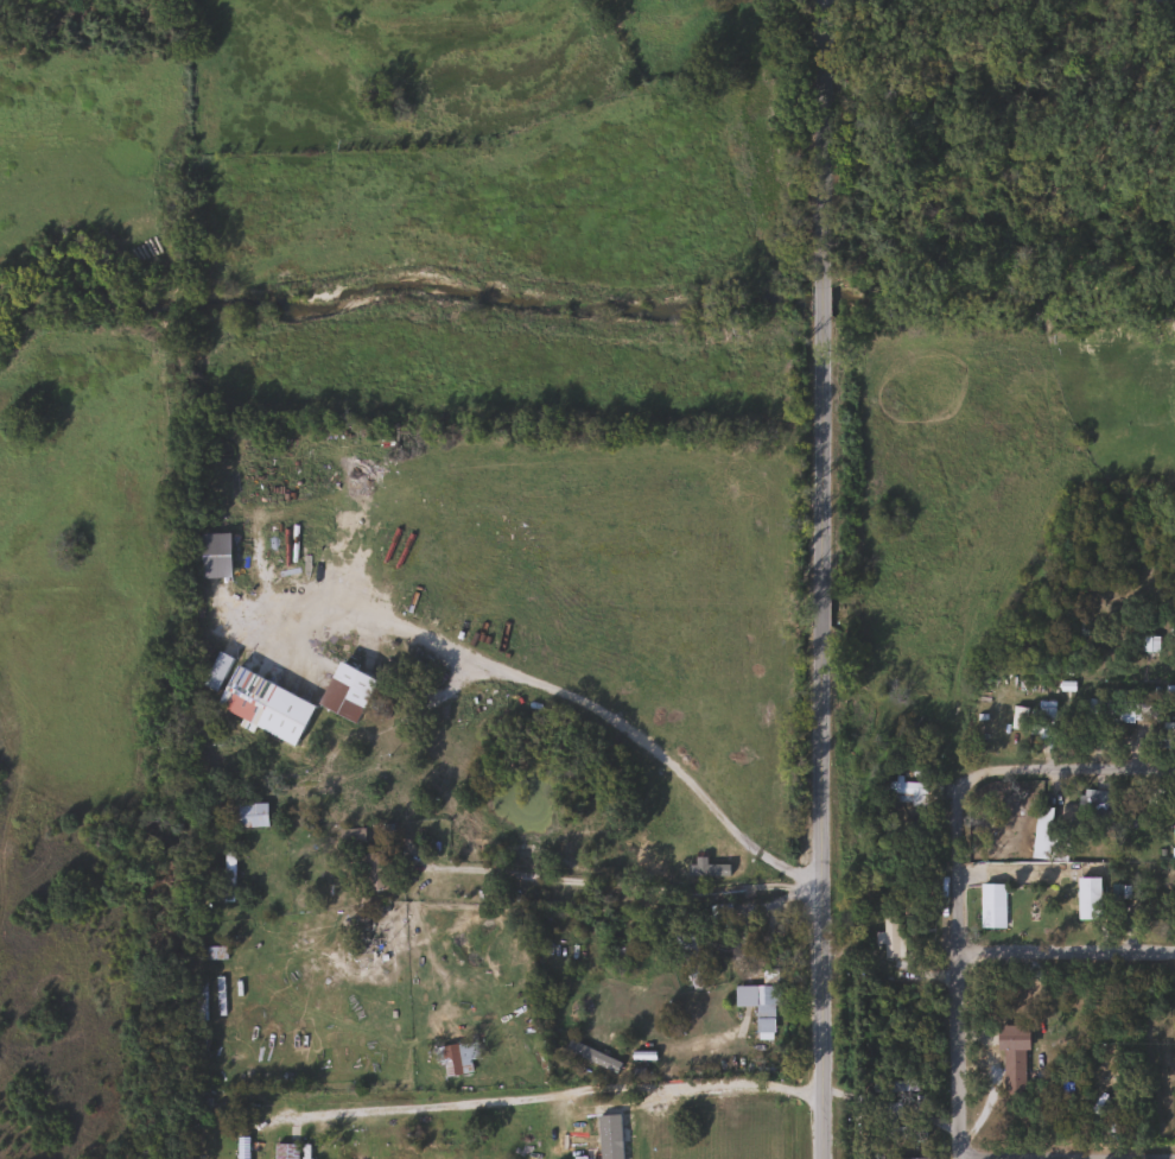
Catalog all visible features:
road: (957, 100)
road: (1017, 566)
road: (821, 579)
building: (1122, 709)
building: (1044, 717)
road: (614, 721)
road: (1065, 767)
building: (903, 792)
building: (1094, 806)
building: (1173, 832)
building: (351, 837)
building: (1046, 837)
building: (373, 870)
building: (228, 876)
road: (616, 886)
building: (1087, 898)
building: (991, 905)
building: (719, 911)
building: (891, 937)
road: (1065, 944)
building: (211, 952)
building: (688, 961)
road: (955, 962)
building: (197, 997)
building: (764, 1012)
building: (1011, 1056)
building: (455, 1057)
road: (559, 1092)
building: (608, 1132)
building: (284, 1151)
road: (1065, 1152)
building: (910, 1158)

